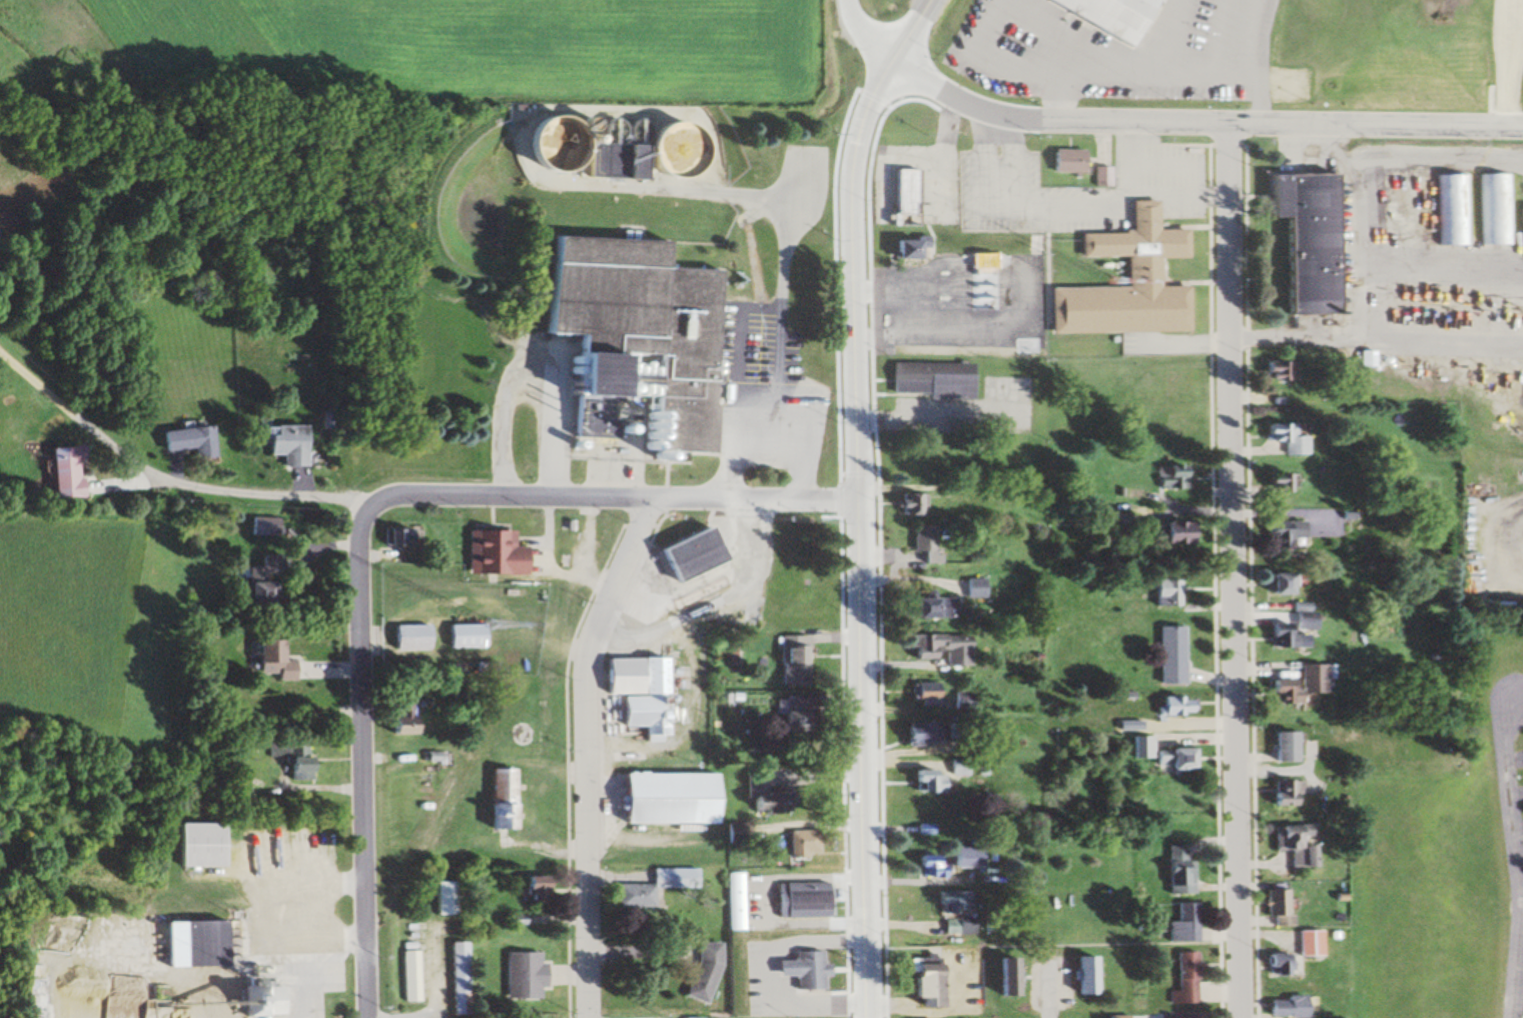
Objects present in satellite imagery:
building: (1108, 15)
building: (1226, 24)
road: (867, 30)
road: (1505, 61)
building: (856, 115)
road: (1194, 116)
building: (542, 152)
building: (622, 161)
building: (1062, 161)
building: (1098, 176)
building: (900, 197)
building: (1494, 208)
building: (1451, 209)
building: (1520, 225)
building: (1298, 237)
building: (901, 249)
road: (1367, 260)
building: (979, 281)
building: (1122, 283)
road: (1375, 336)
building: (627, 343)
building: (1276, 371)
building: (927, 379)
building: (1284, 438)
building: (498, 440)
building: (185, 441)
building: (284, 444)
building: (538, 447)
building: (63, 473)
road: (165, 476)
building: (1168, 478)
building: (1278, 485)
road: (612, 500)
road: (858, 500)
building: (910, 505)
building: (262, 528)
building: (1169, 534)
building: (1281, 535)
building: (396, 538)
building: (922, 544)
building: (491, 554)
building: (685, 555)
road: (1230, 567)
building: (1281, 584)
building: (258, 587)
building: (971, 588)
building: (1163, 593)
building: (927, 608)
building: (1279, 635)
building: (463, 636)
building: (409, 638)
building: (936, 648)
building: (1167, 655)
building: (270, 661)
building: (789, 661)
building: (1309, 679)
building: (1280, 690)
building: (634, 692)
building: (921, 693)
building: (962, 698)
building: (1170, 706)
building: (791, 715)
building: (398, 717)
building: (952, 730)
building: (914, 733)
building: (514, 734)
building: (1280, 747)
road: (587, 752)
building: (1156, 754)
road: (368, 757)
building: (292, 760)
building: (925, 781)
building: (240, 783)
building: (1283, 792)
building: (663, 798)
building: (495, 799)
building: (760, 802)
building: (799, 843)
building: (196, 845)
building: (1291, 845)
road: (1518, 856)
building: (966, 858)
building: (928, 866)
building: (1176, 870)
building: (654, 887)
building: (532, 889)
building: (443, 898)
building: (796, 900)
building: (950, 901)
building: (733, 902)
building: (1275, 908)
building: (1181, 923)
building: (1307, 944)
building: (189, 945)
building: (1274, 966)
building: (799, 971)
building: (699, 973)
building: (409, 976)
building: (522, 976)
building: (1081, 976)
building: (459, 978)
building: (1002, 978)
building: (1181, 980)
building: (919, 982)
road: (1044, 996)
building: (1283, 1008)

